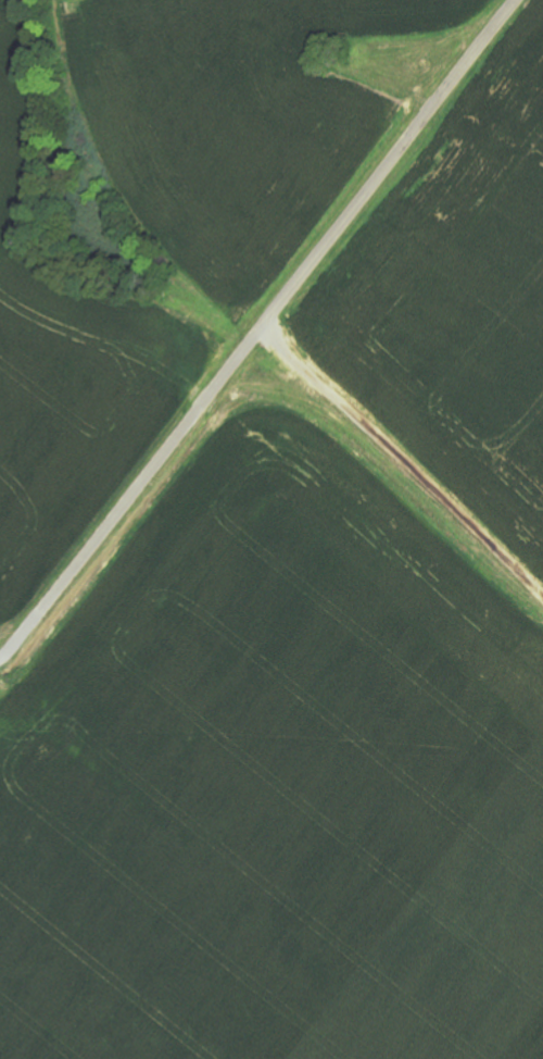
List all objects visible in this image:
road: (260, 331)

